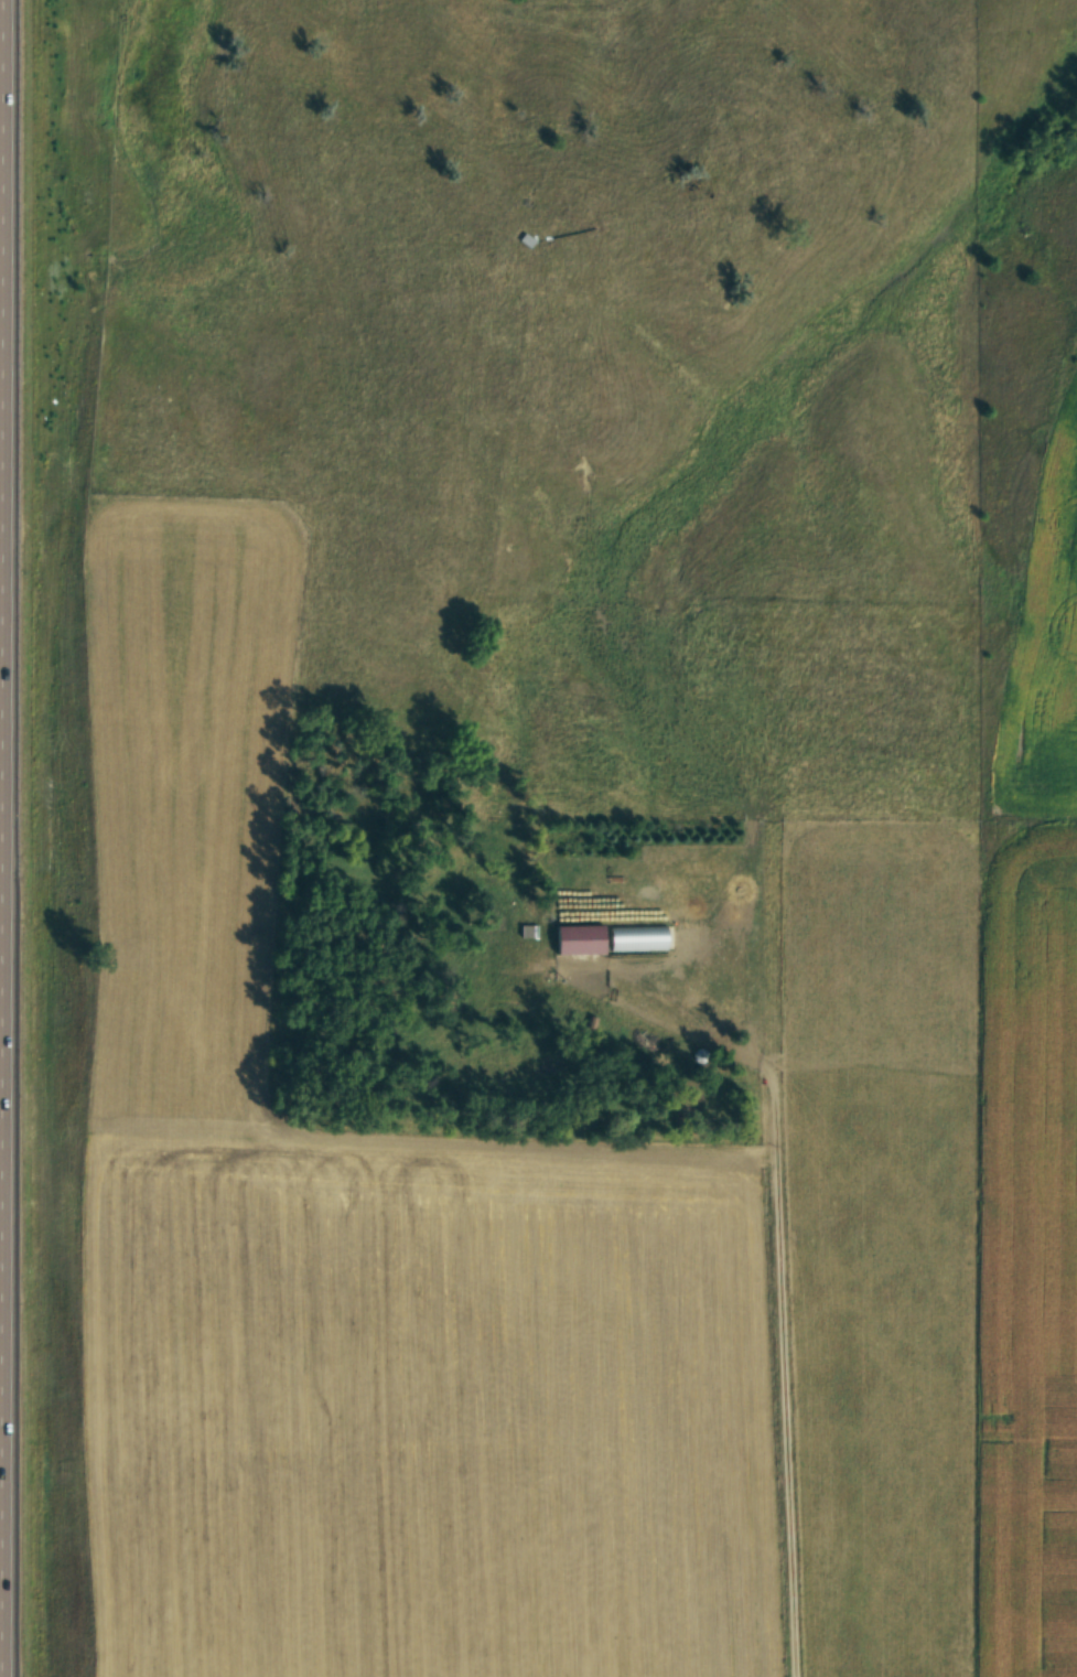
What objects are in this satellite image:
building: (634, 937)
building: (575, 938)
road: (785, 1361)

